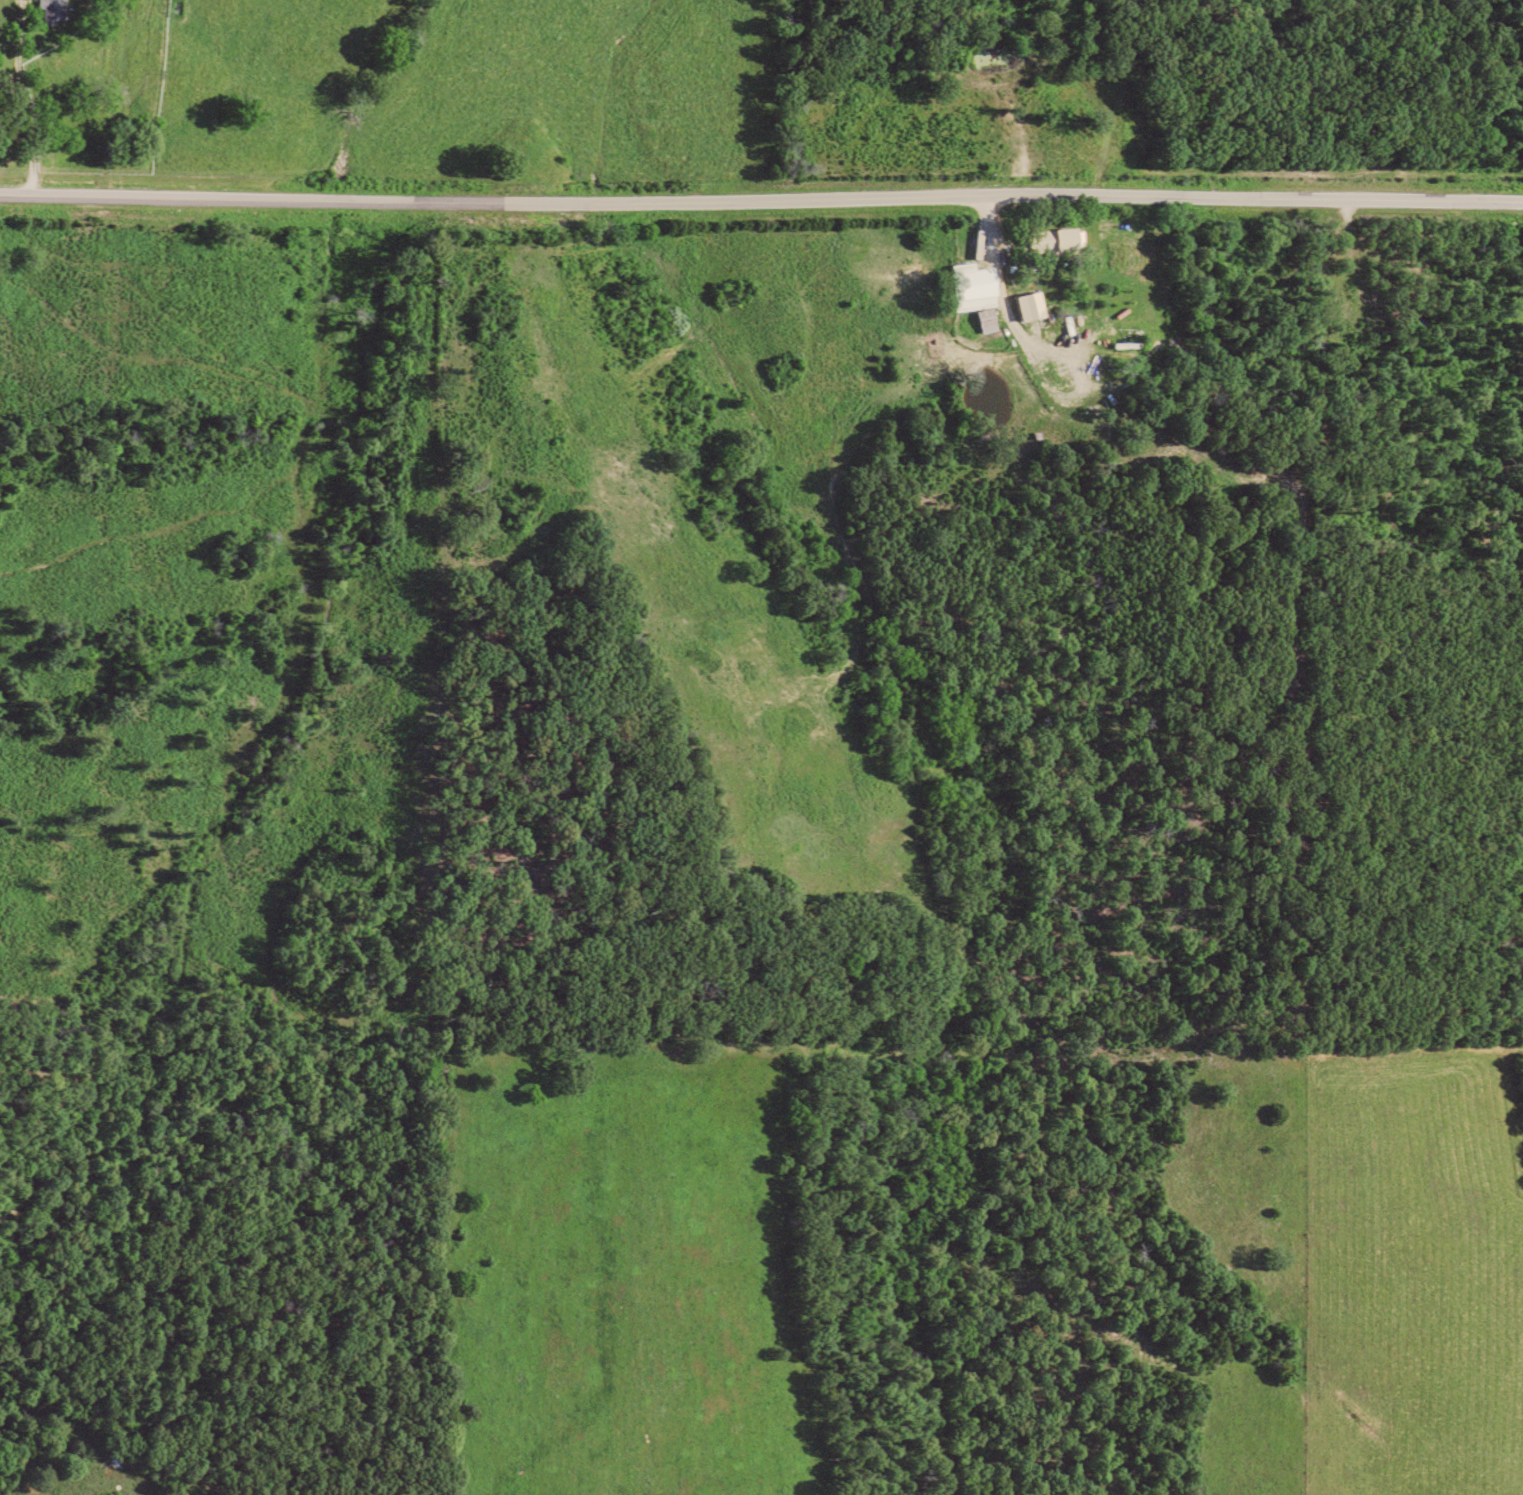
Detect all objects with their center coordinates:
building: (59, 11)
road: (21, 100)
road: (761, 202)
building: (1062, 240)
building: (985, 292)
building: (1039, 307)

